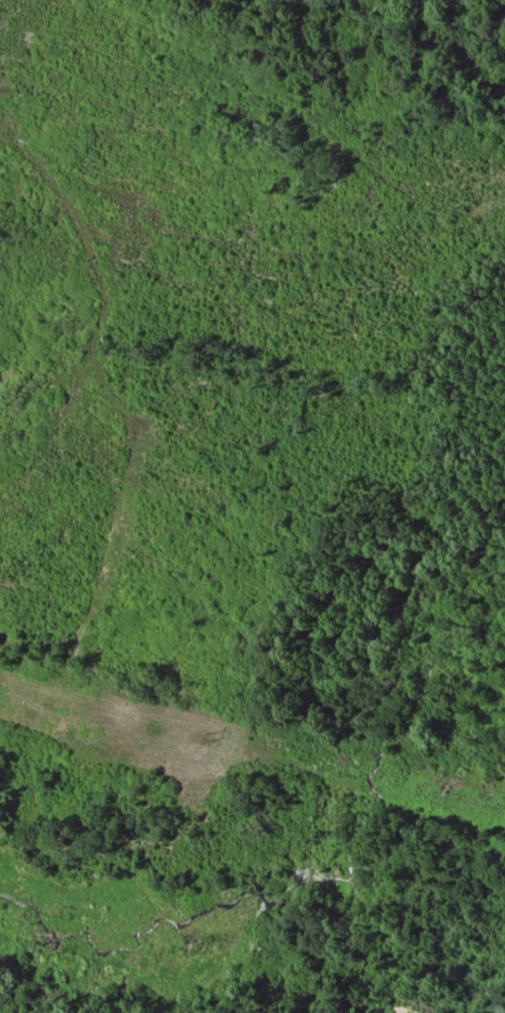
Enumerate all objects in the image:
power tower: (211, 735)

